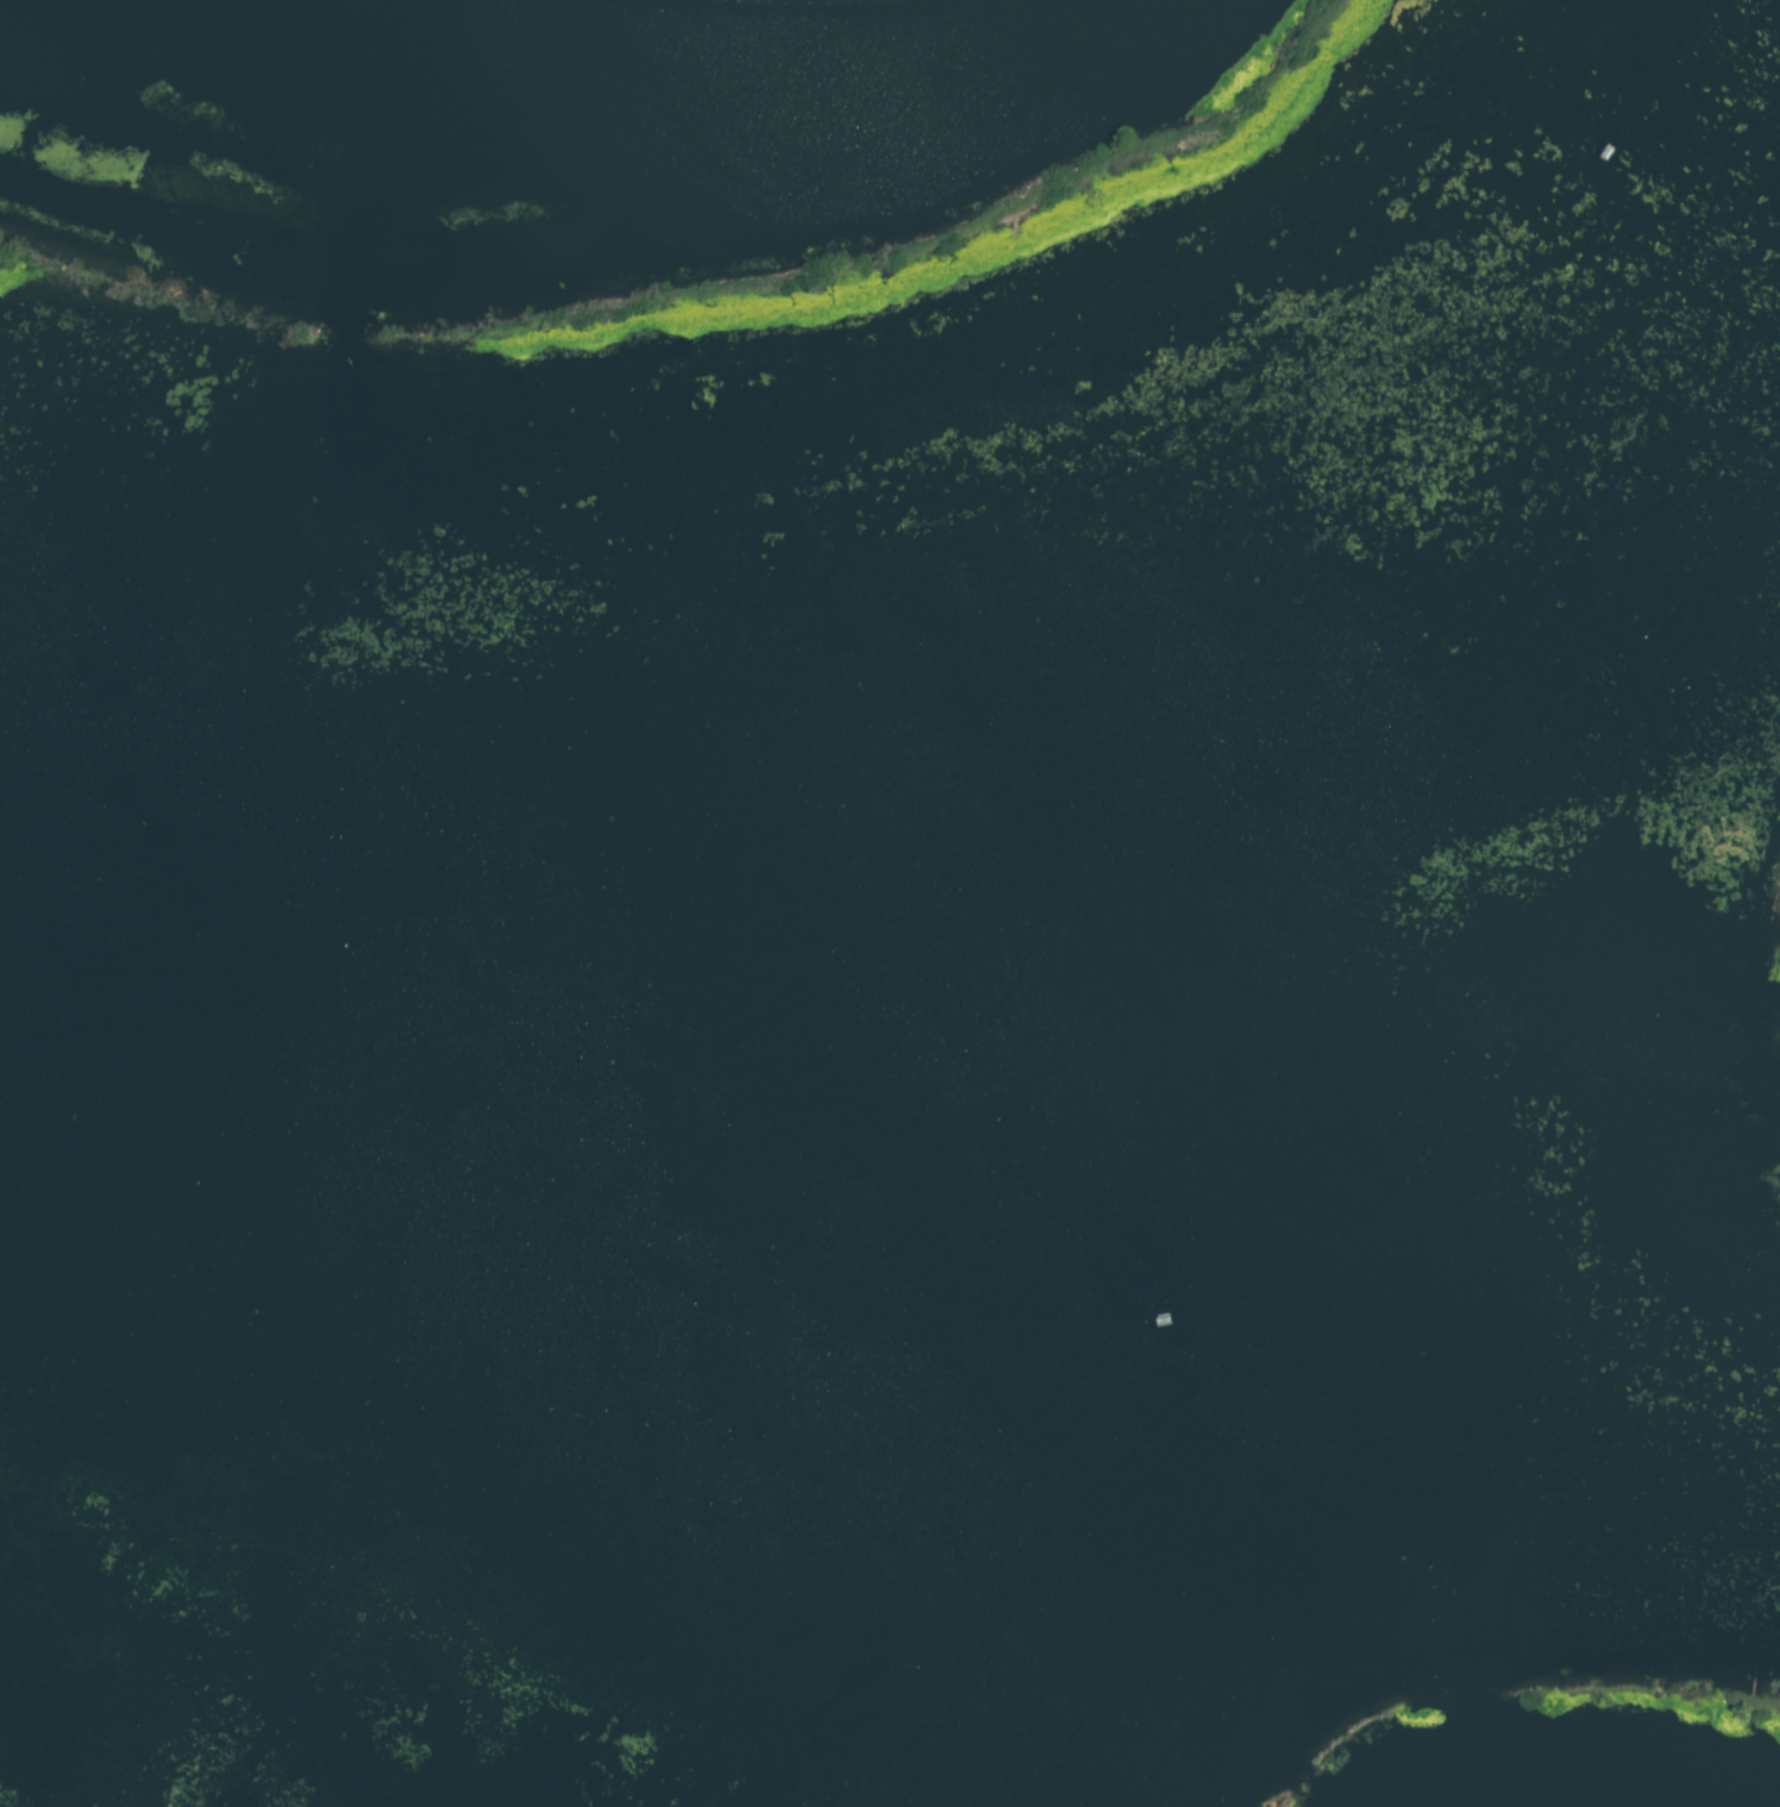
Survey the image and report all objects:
river: (480, 59)

